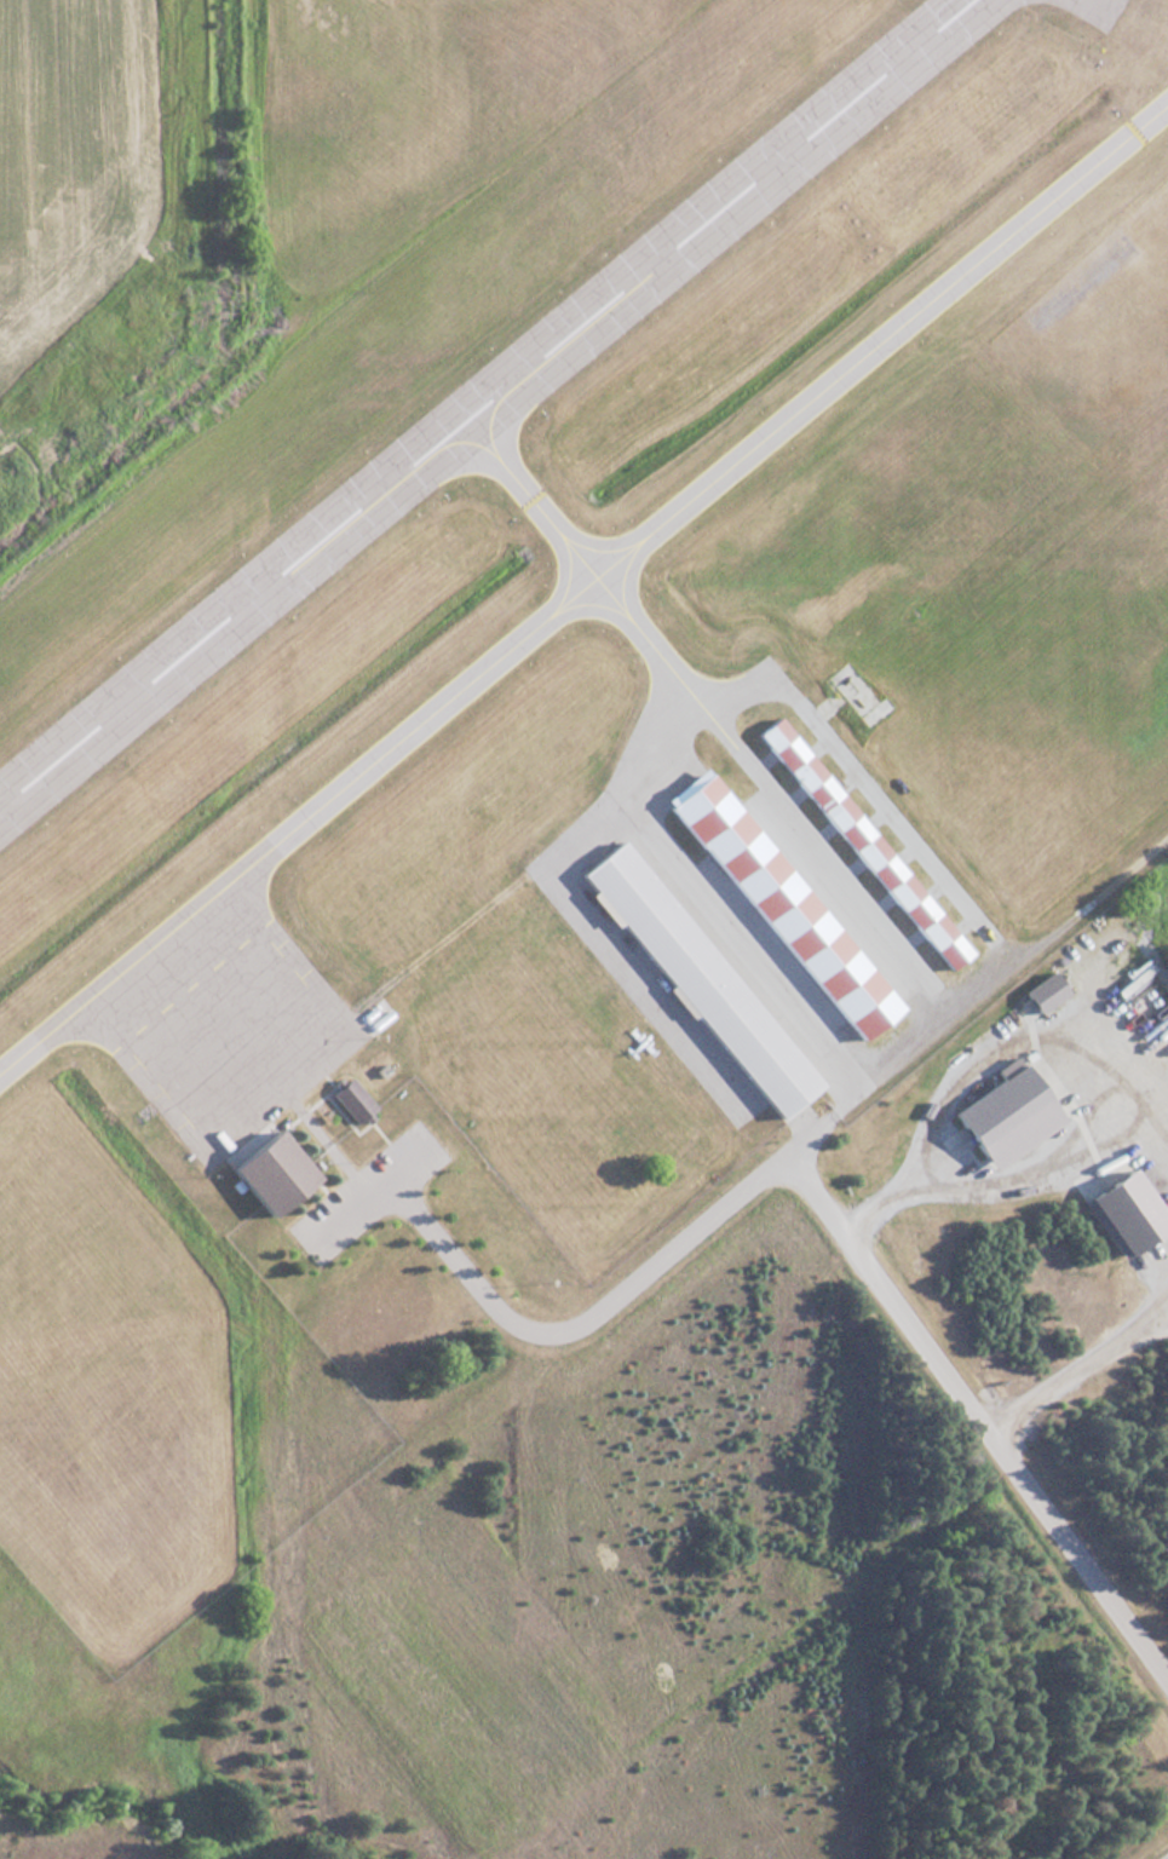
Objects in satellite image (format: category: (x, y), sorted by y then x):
airport runway: (481, 398)
airport taxiway: (586, 565)
airport taxiway: (583, 581)
building: (859, 842)
building: (778, 903)
building: (694, 978)
building: (347, 1099)
building: (1001, 1116)
building: (264, 1169)
road: (825, 1210)

